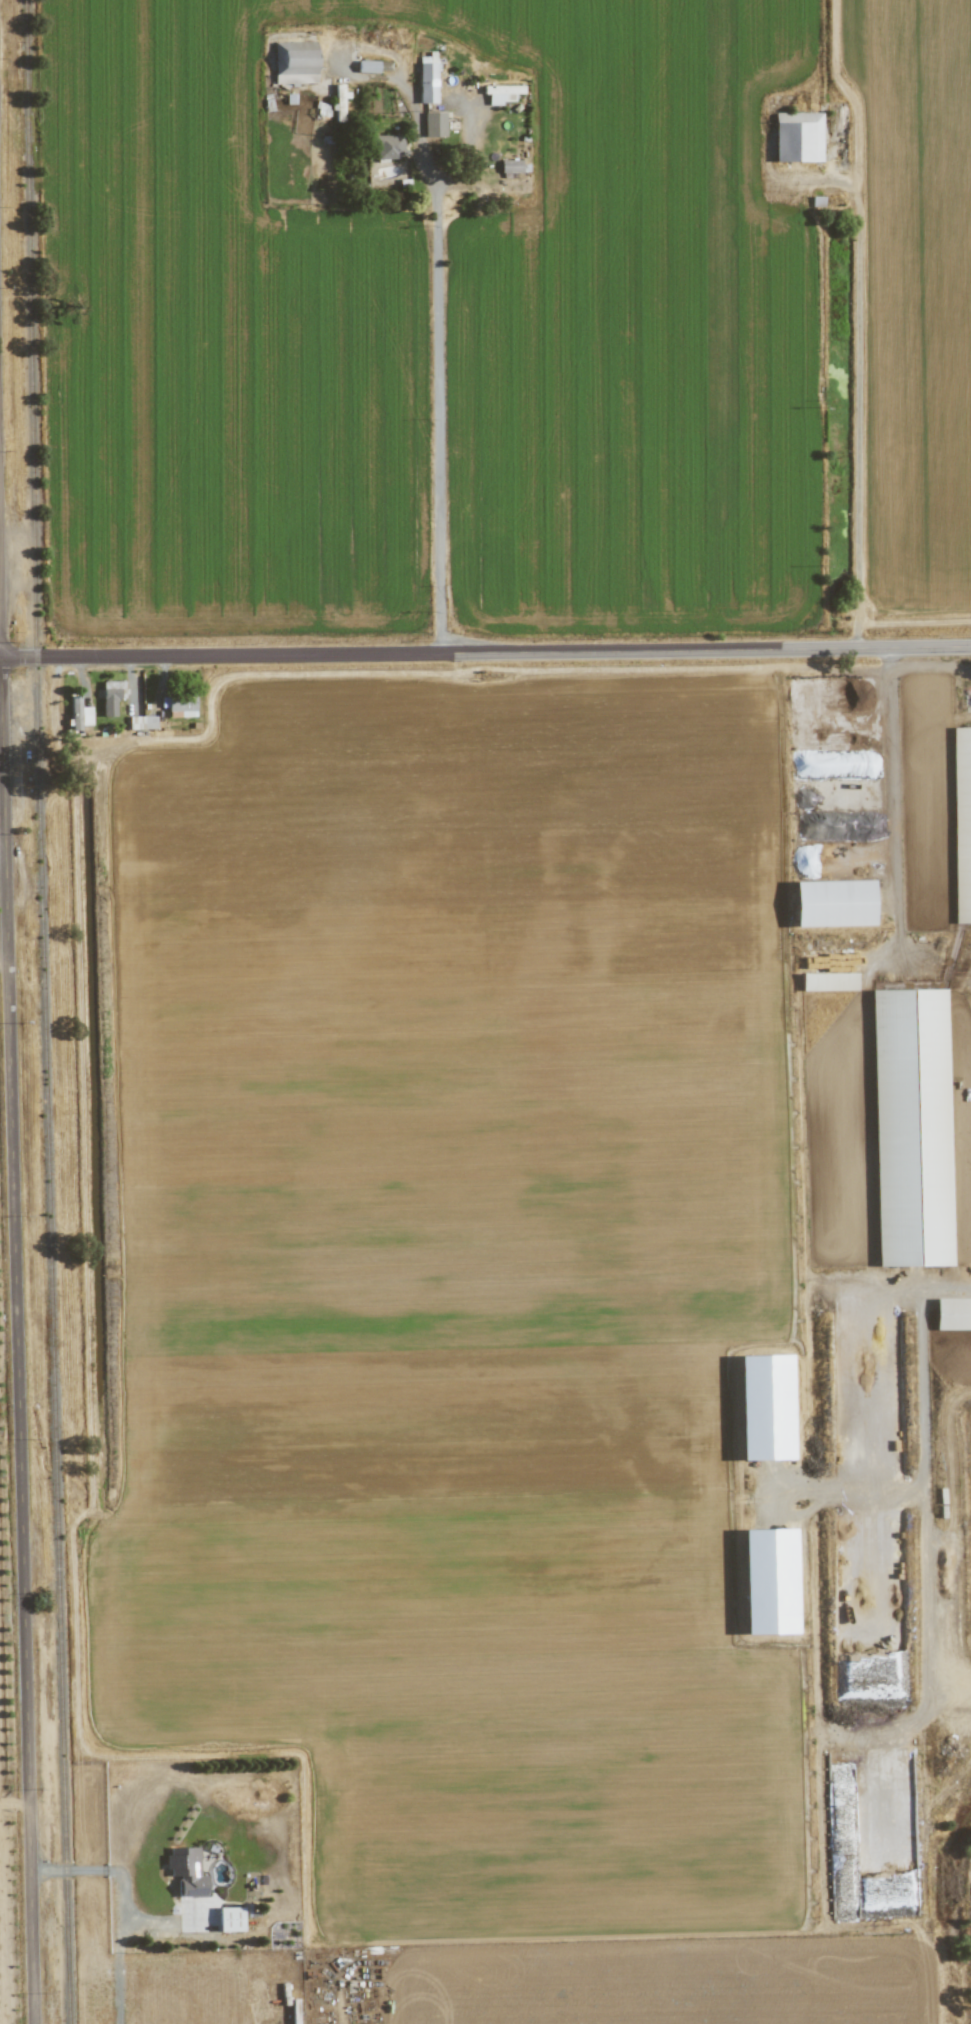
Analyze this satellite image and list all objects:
building: (294, 63)
building: (367, 67)
building: (426, 79)
building: (501, 93)
building: (338, 102)
building: (321, 109)
building: (434, 125)
building: (797, 137)
building: (388, 147)
building: (510, 166)
road: (437, 344)
road: (858, 412)
road: (485, 652)
road: (919, 667)
building: (110, 696)
building: (181, 707)
building: (78, 715)
building: (141, 723)
building: (962, 791)
building: (831, 904)
building: (827, 982)
building: (911, 1022)
building: (912, 1228)
road: (16, 1257)
building: (952, 1315)
building: (763, 1408)
building: (767, 1581)
road: (67, 1871)
building: (186, 1872)
road: (117, 1909)
building: (229, 1919)
road: (117, 1988)

